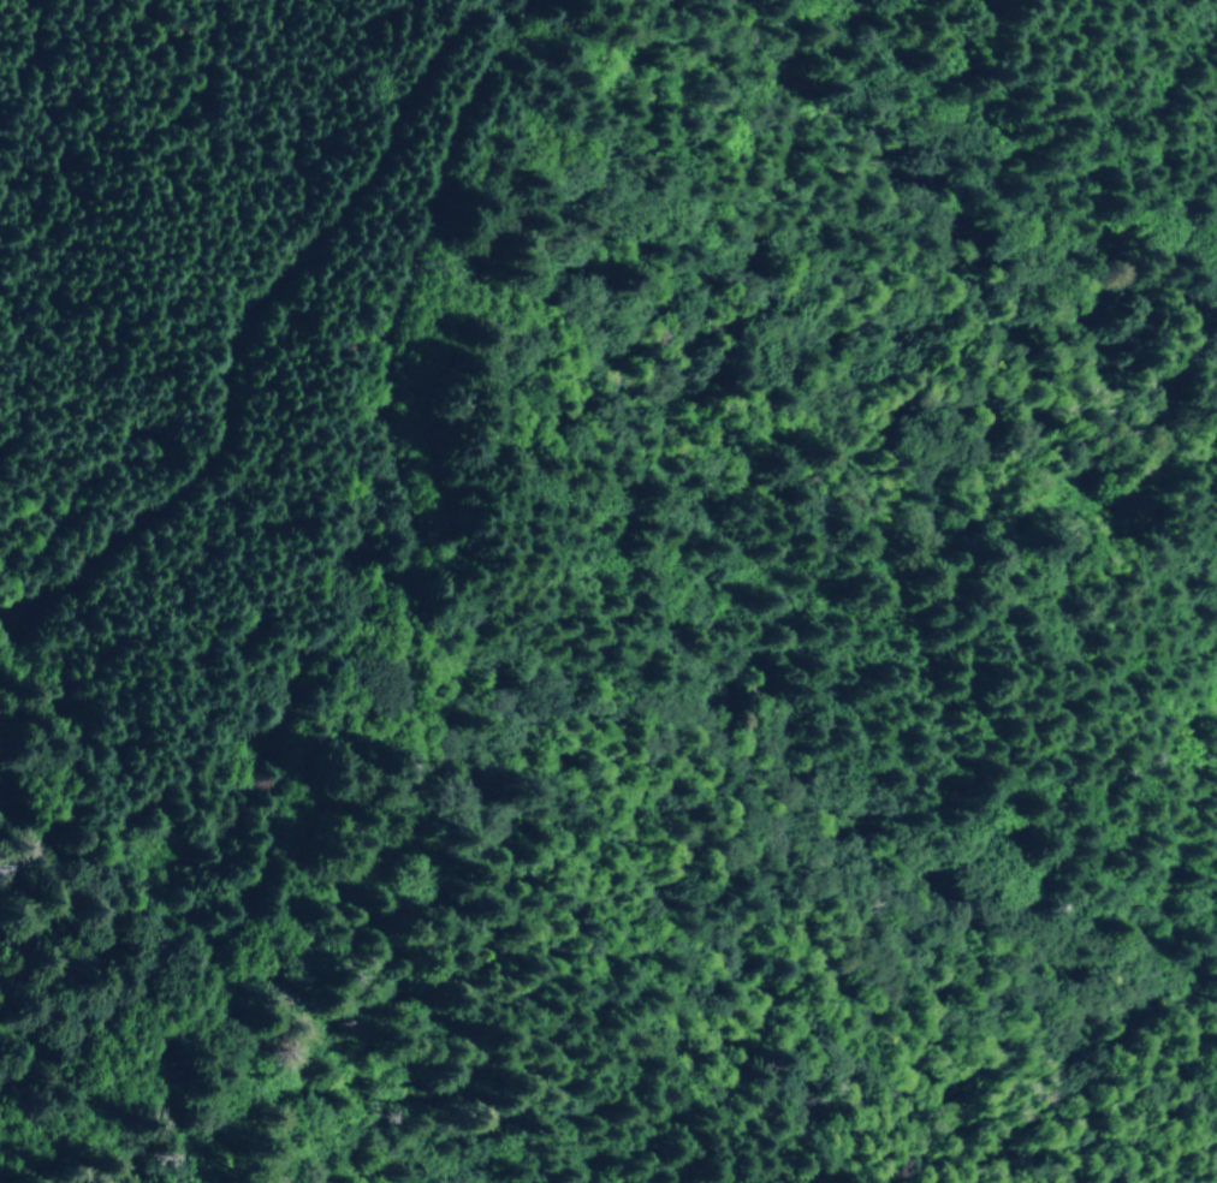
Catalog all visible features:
road: (362, 614)

